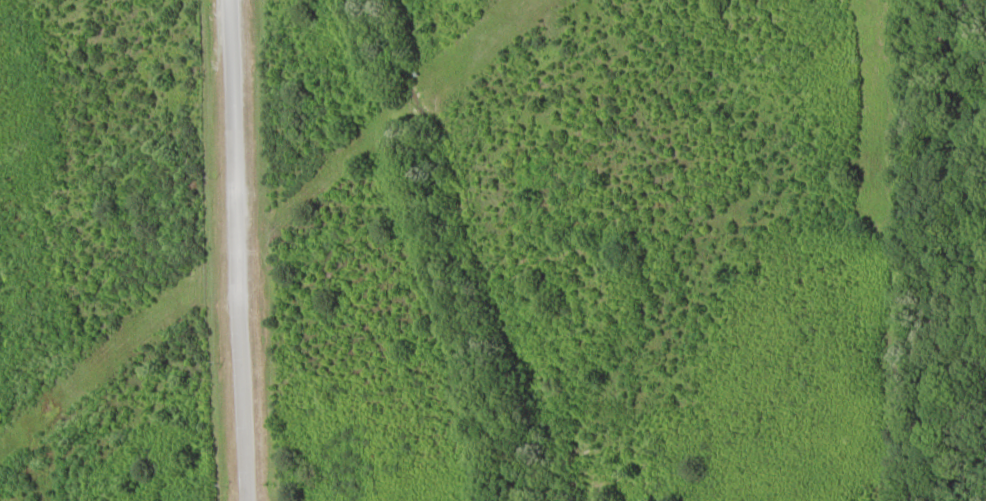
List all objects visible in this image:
road: (233, 250)

